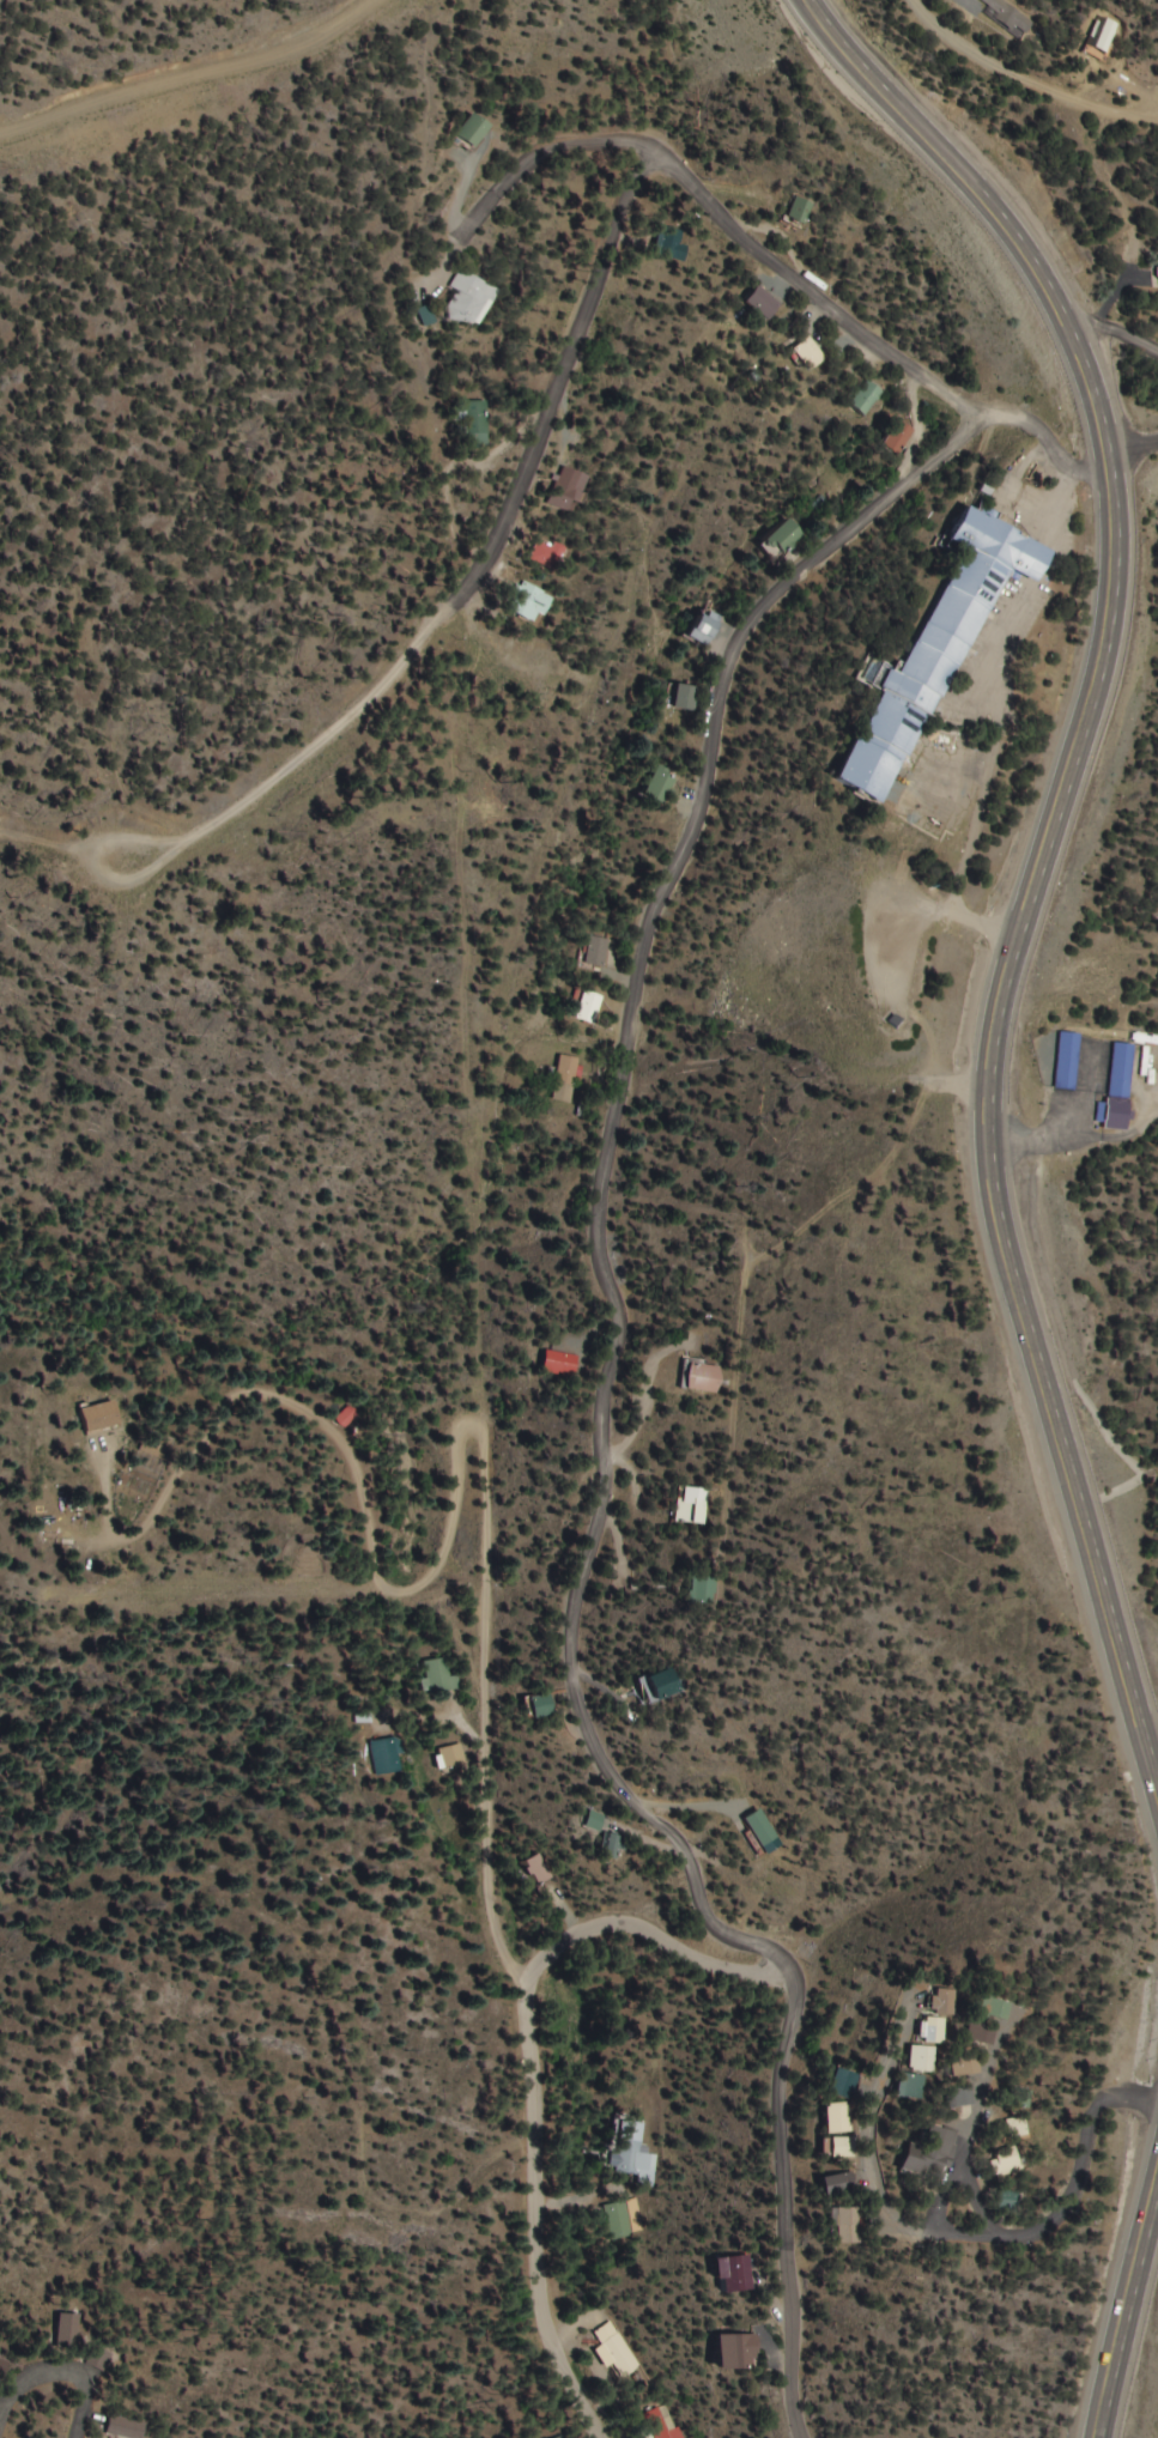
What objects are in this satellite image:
building: (1104, 35)
road: (1002, 66)
building: (474, 132)
building: (799, 211)
building: (678, 247)
road: (750, 275)
building: (469, 301)
building: (763, 304)
building: (428, 317)
building: (810, 356)
road: (531, 396)
building: (866, 399)
building: (474, 424)
building: (898, 437)
road: (1135, 466)
building: (565, 498)
building: (784, 538)
building: (547, 554)
building: (529, 605)
building: (704, 630)
building: (934, 655)
building: (684, 699)
building: (659, 787)
road: (1029, 865)
building: (595, 952)
building: (587, 1007)
building: (1066, 1061)
building: (563, 1079)
building: (1117, 1086)
road: (680, 1123)
building: (558, 1364)
building: (699, 1377)
building: (97, 1417)
building: (696, 1505)
building: (702, 1590)
building: (437, 1675)
building: (660, 1686)
building: (541, 1706)
road: (1150, 1745)
building: (386, 1757)
building: (451, 1757)
building: (762, 1827)
building: (610, 1846)
building: (535, 1872)
building: (940, 2002)
building: (990, 2009)
building: (929, 2030)
building: (977, 2034)
building: (918, 2058)
building: (959, 2067)
building: (842, 2085)
building: (907, 2087)
building: (952, 2098)
building: (837, 2121)
road: (532, 2146)
road: (830, 2146)
building: (842, 2147)
road: (1018, 2147)
building: (930, 2149)
building: (629, 2151)
building: (1000, 2165)
building: (837, 2185)
building: (616, 2221)
building: (847, 2227)
road: (970, 2246)
building: (734, 2276)
road: (1121, 2284)
building: (65, 2331)
building: (616, 2353)
building: (739, 2353)
building: (96, 2359)
building: (1, 2365)
road: (57, 2376)
building: (121, 2428)

